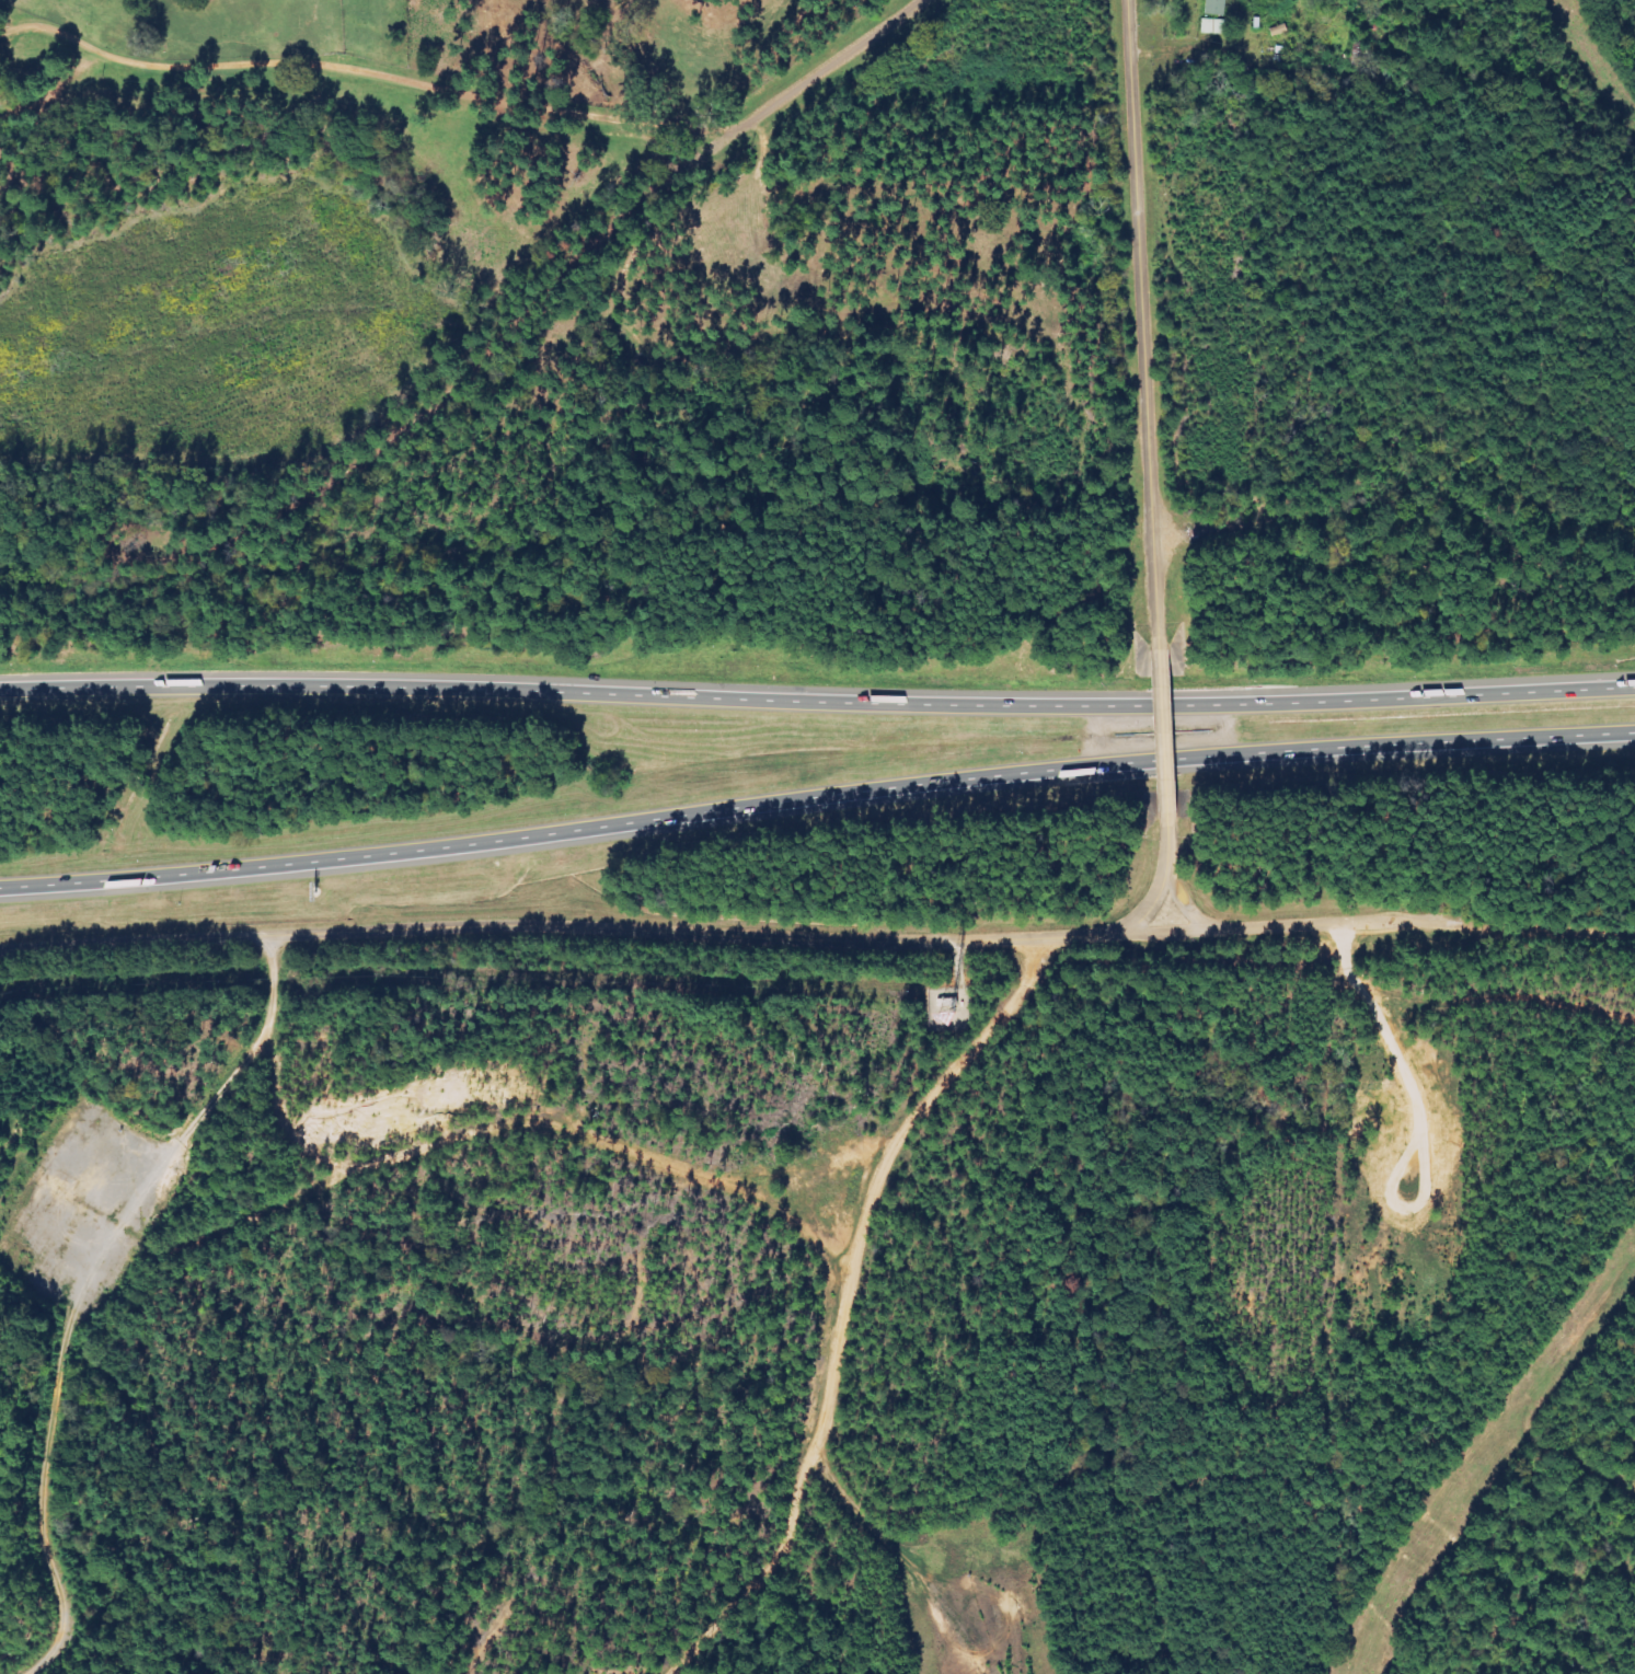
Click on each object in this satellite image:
building: (1216, 7)
building: (1214, 26)
road: (1140, 319)
road: (817, 700)
road: (1168, 728)
road: (816, 796)
road: (1156, 891)
road: (1188, 902)
road: (724, 933)

